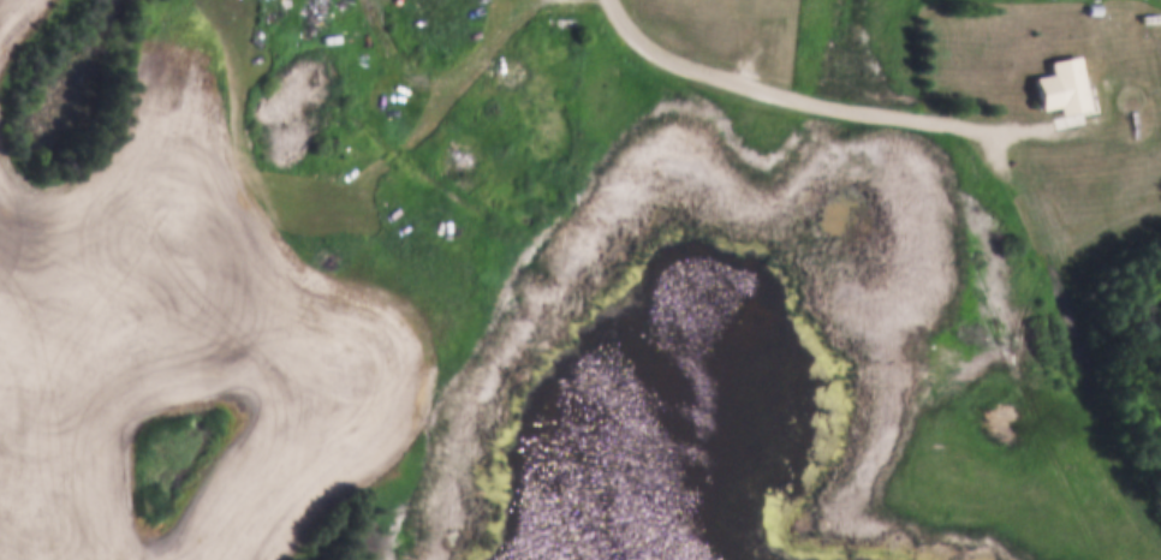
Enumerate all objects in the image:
building: (1092, 7)
building: (762, 20)
building: (1058, 84)
road: (781, 96)
road: (1083, 329)

